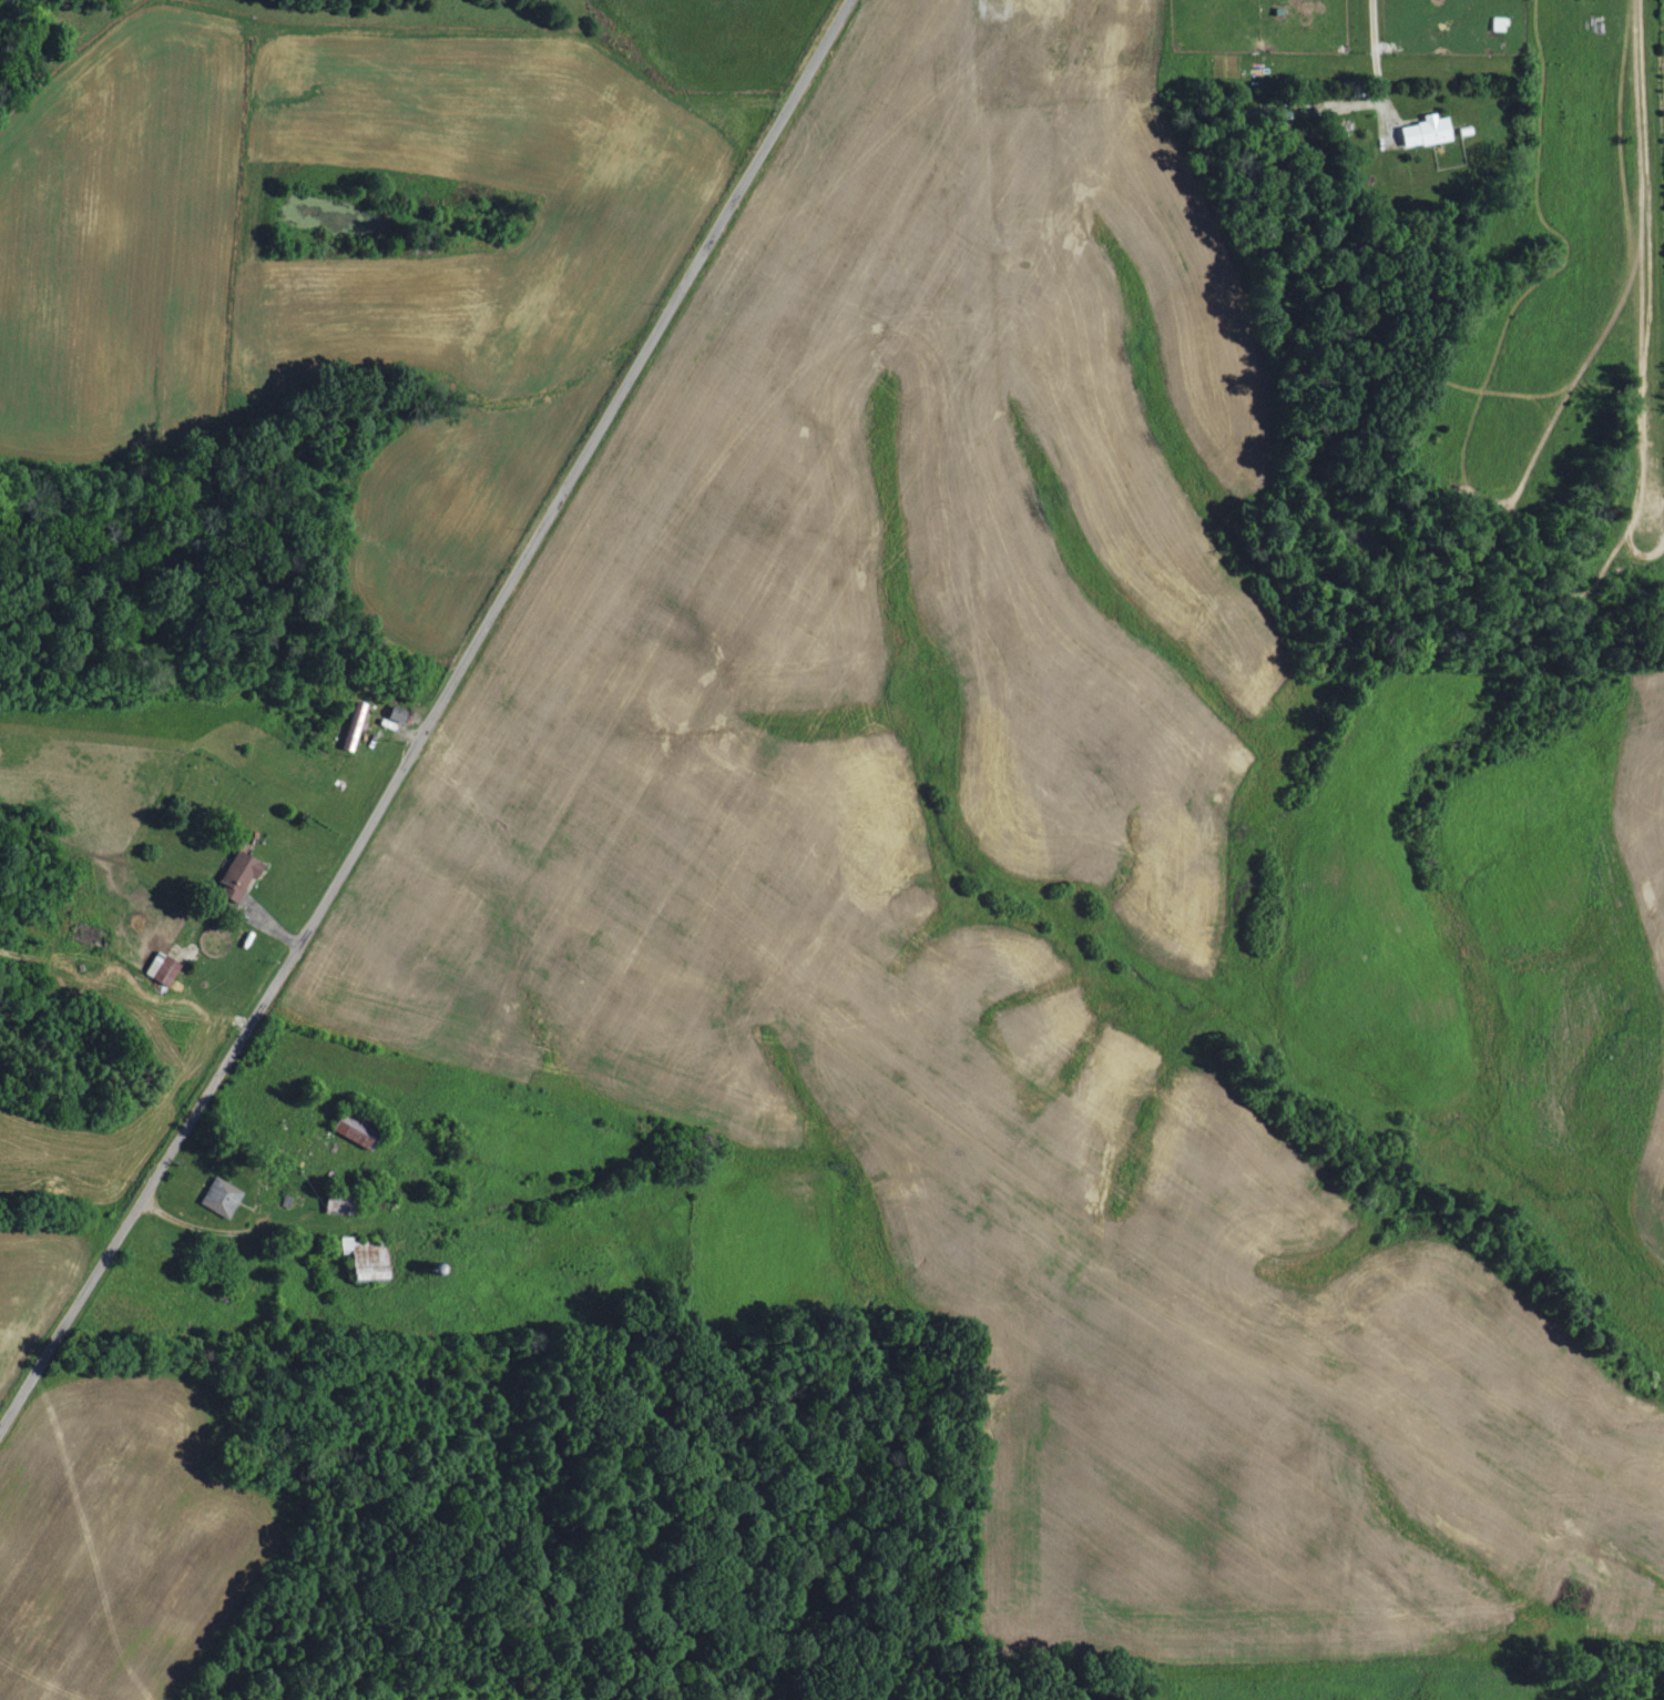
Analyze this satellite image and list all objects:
road: (983, 3)
building: (1501, 24)
road: (1371, 60)
building: (1429, 132)
building: (401, 714)
road: (430, 715)
building: (356, 725)
building: (246, 869)
building: (165, 968)
building: (224, 1198)
road: (202, 1228)
building: (372, 1261)

